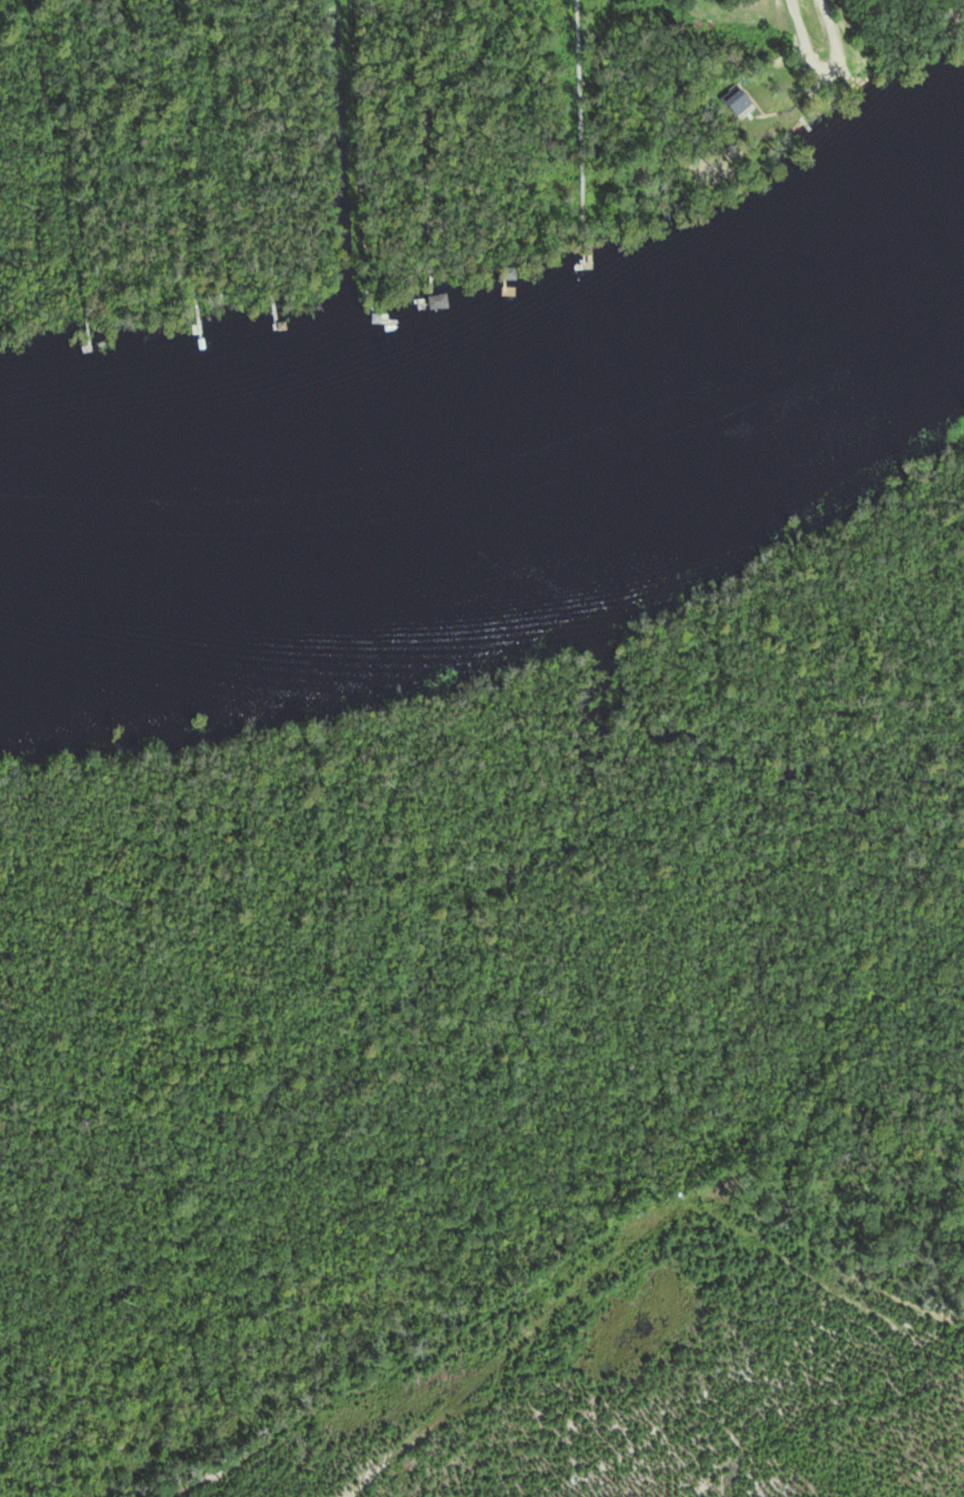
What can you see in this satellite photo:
building: (739, 102)
building: (439, 300)
river: (510, 466)

